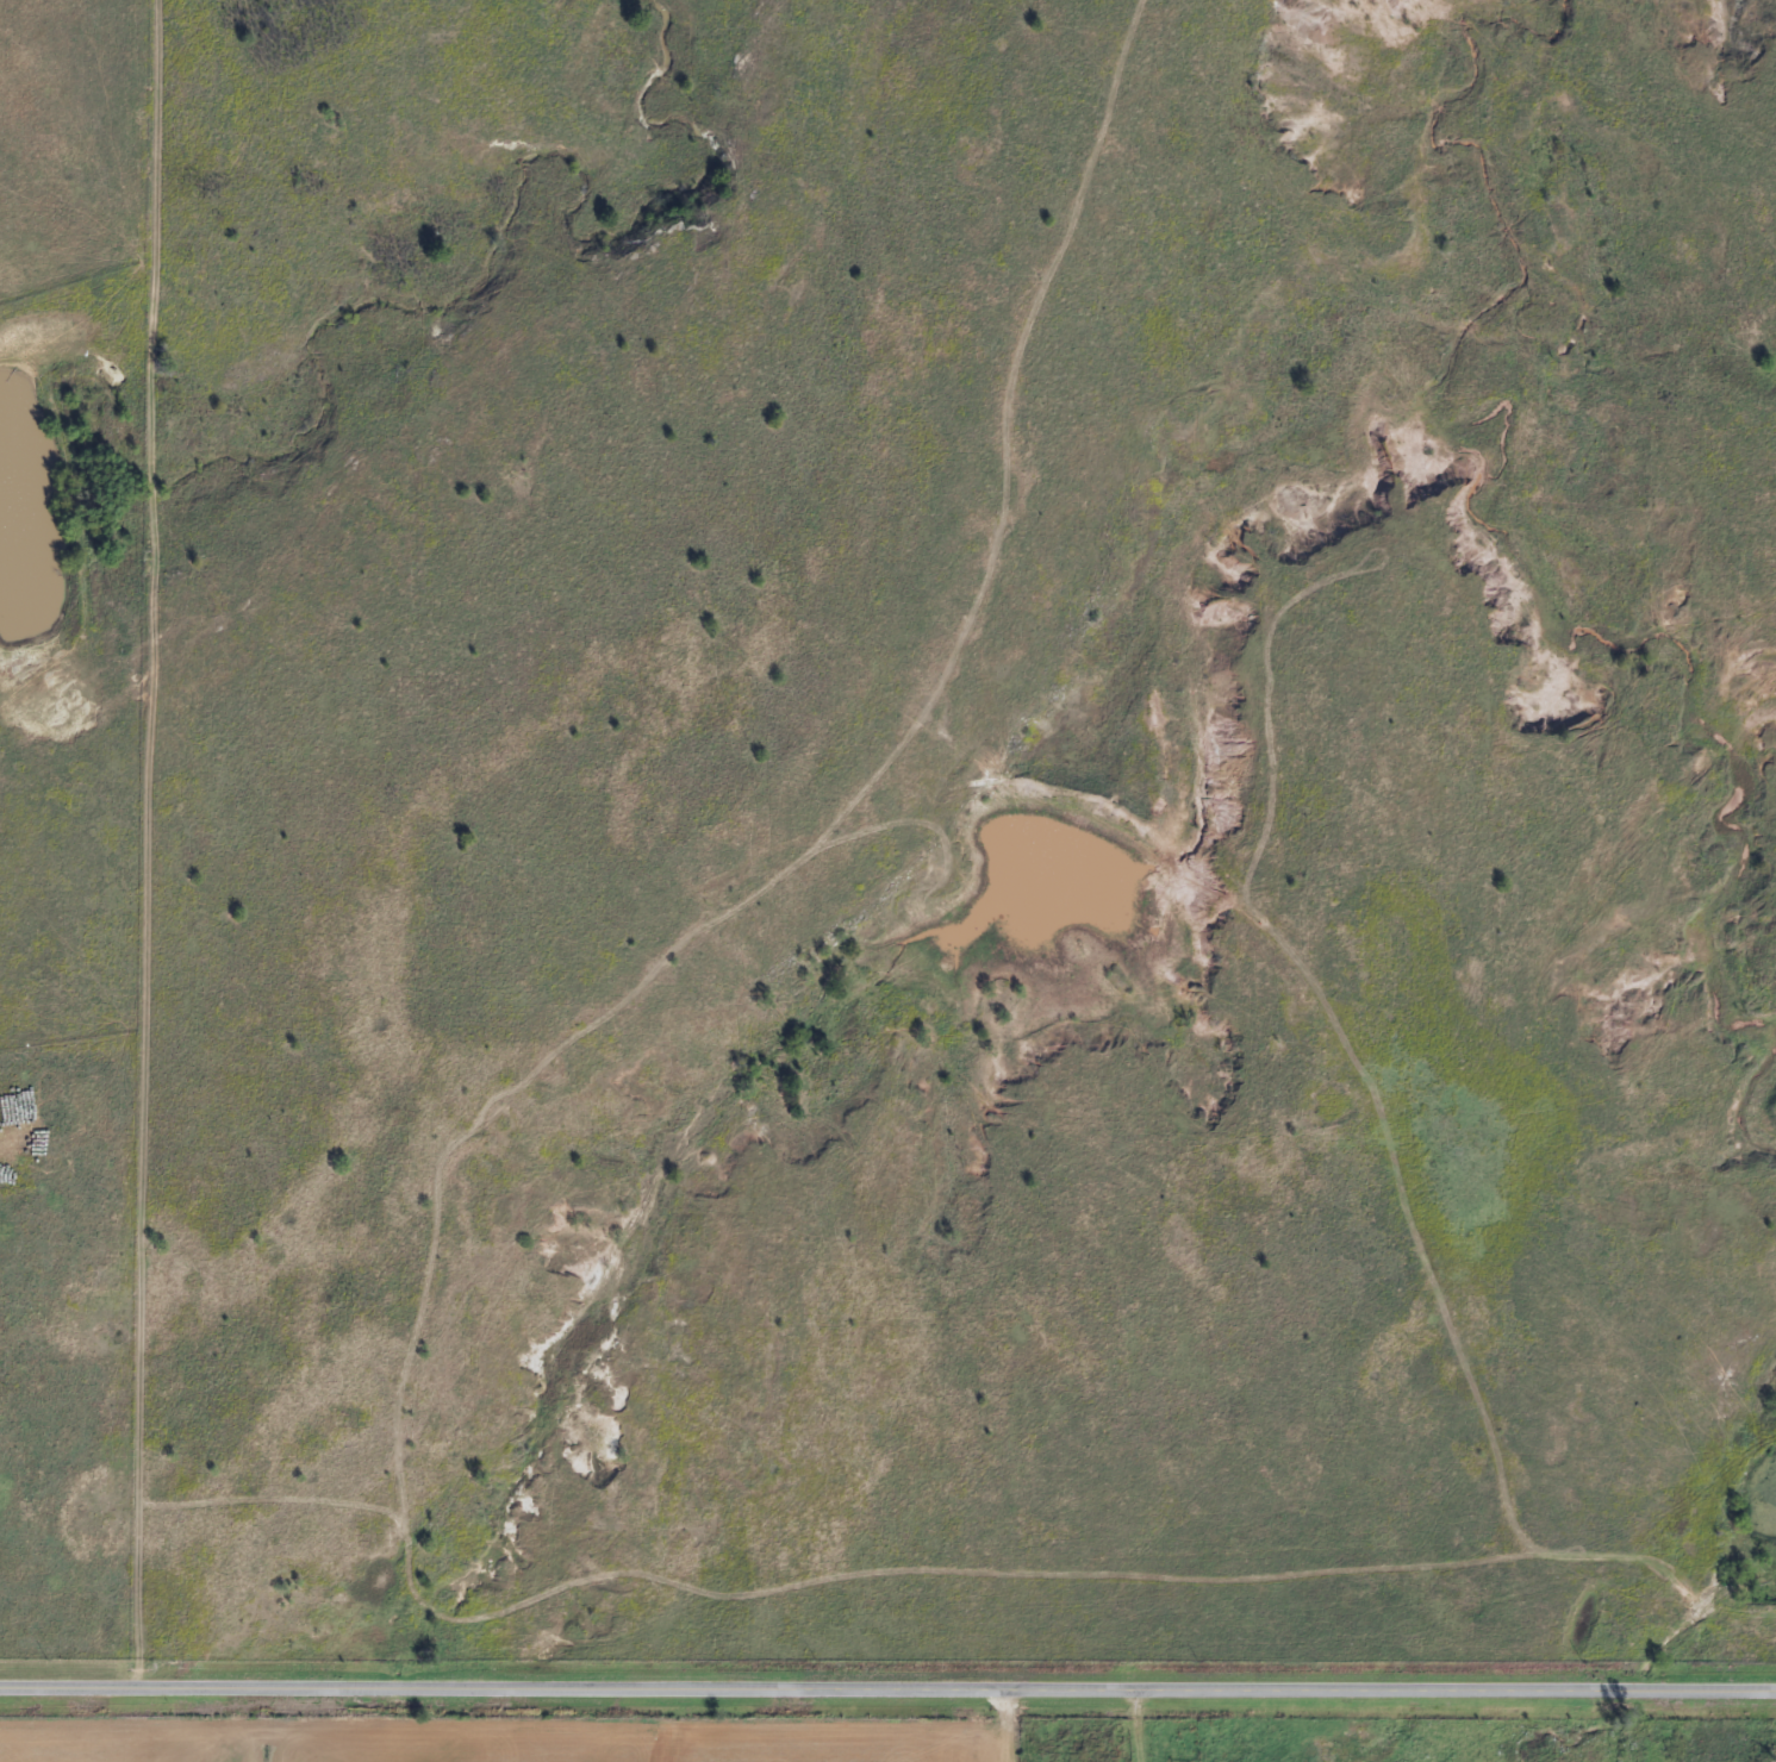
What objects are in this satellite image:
road: (887, 1687)

